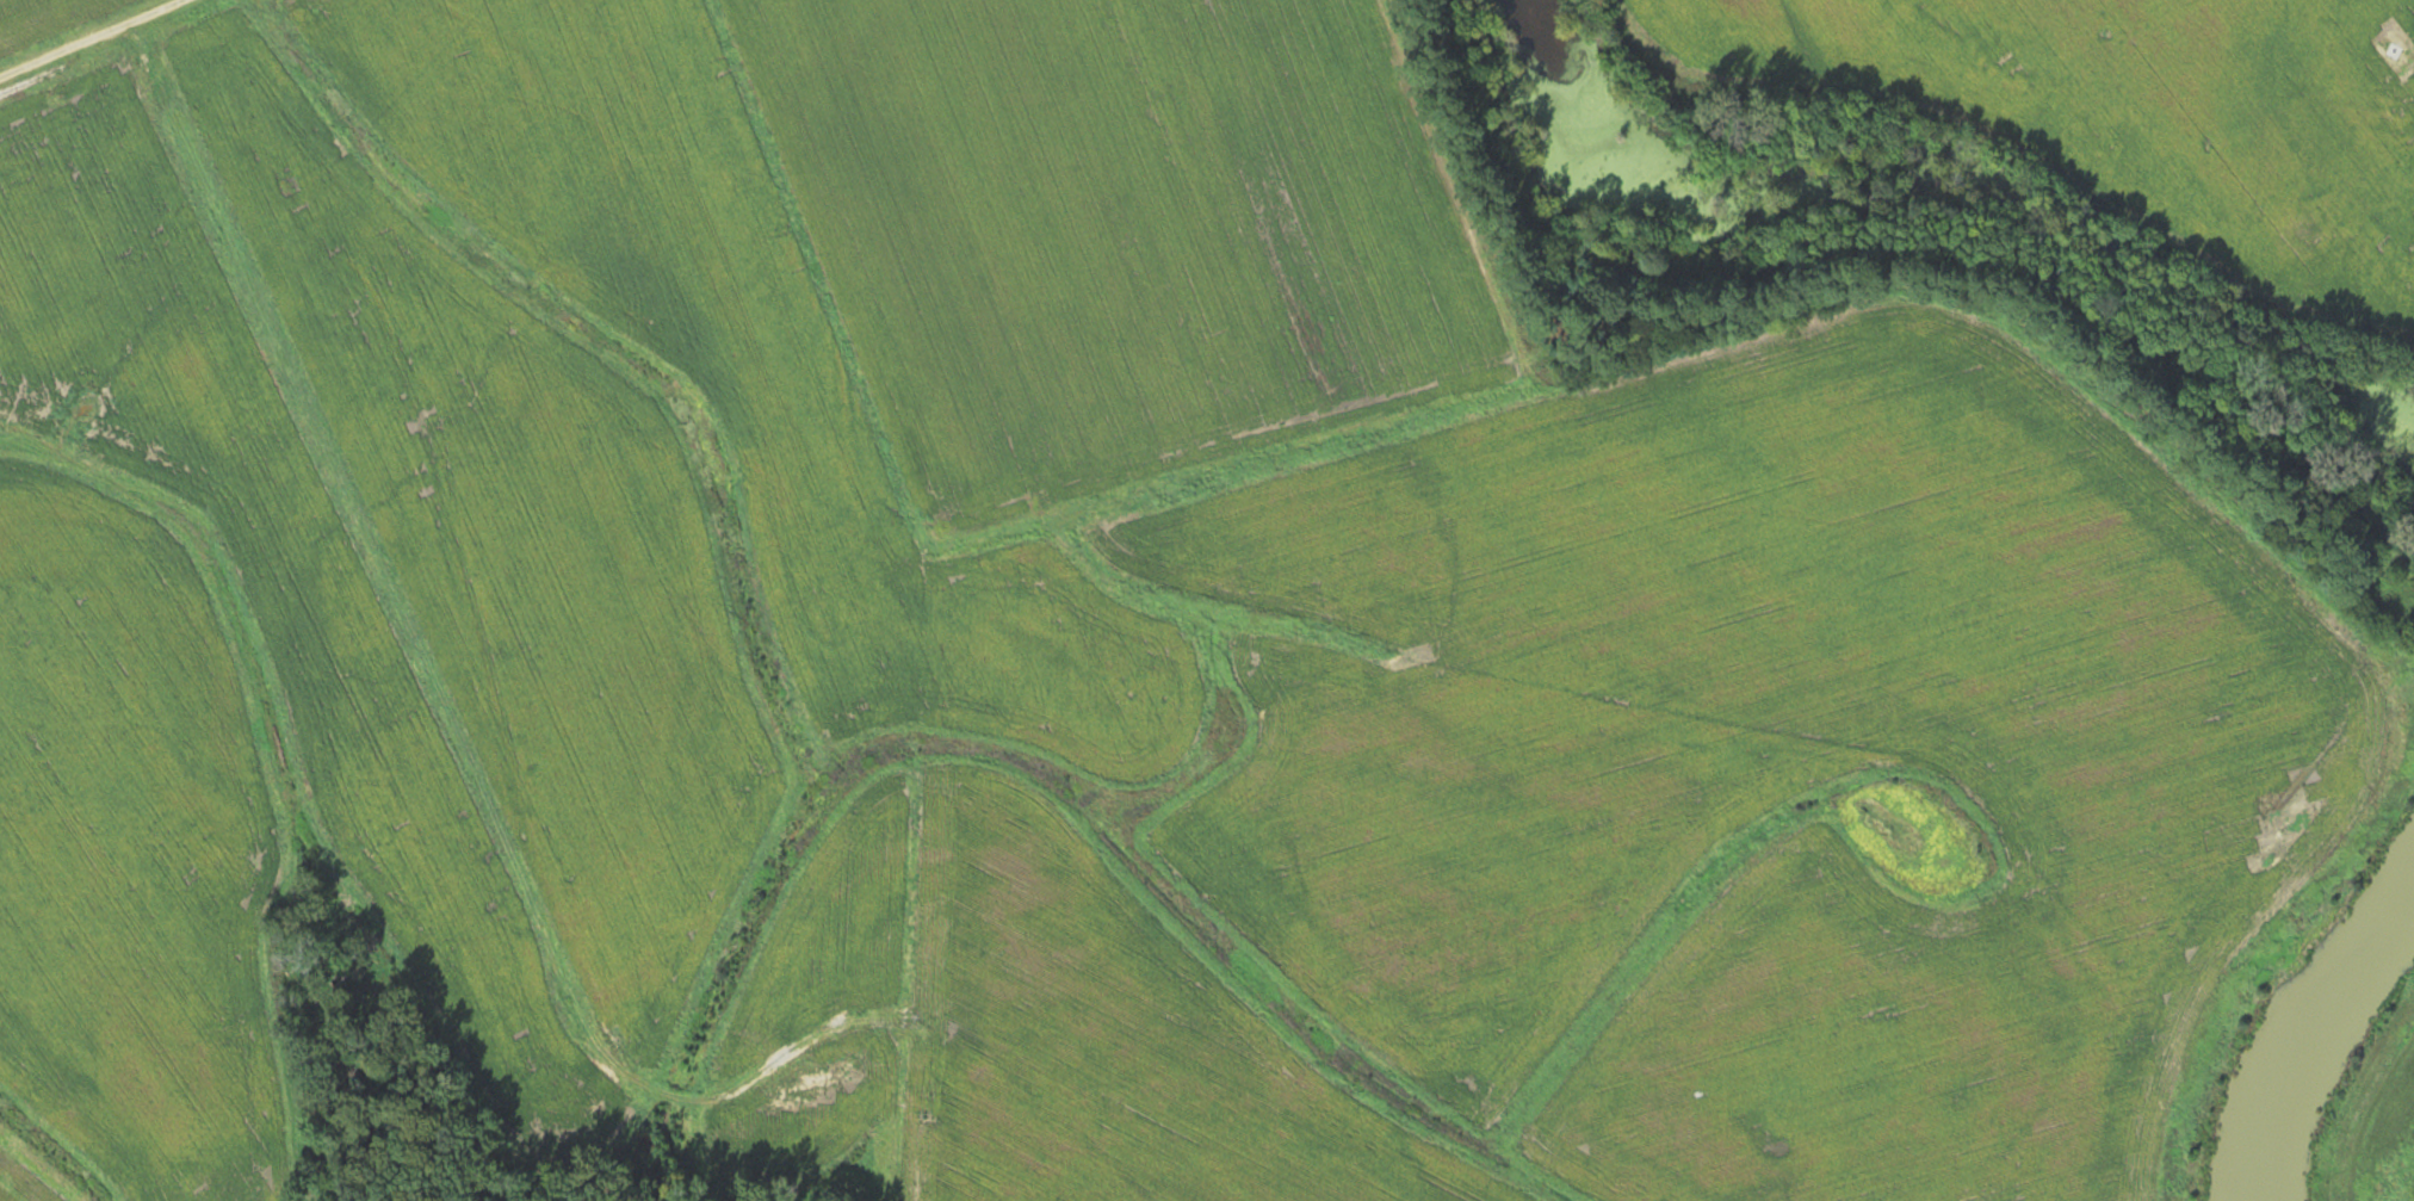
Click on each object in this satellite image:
road: (79, 32)

